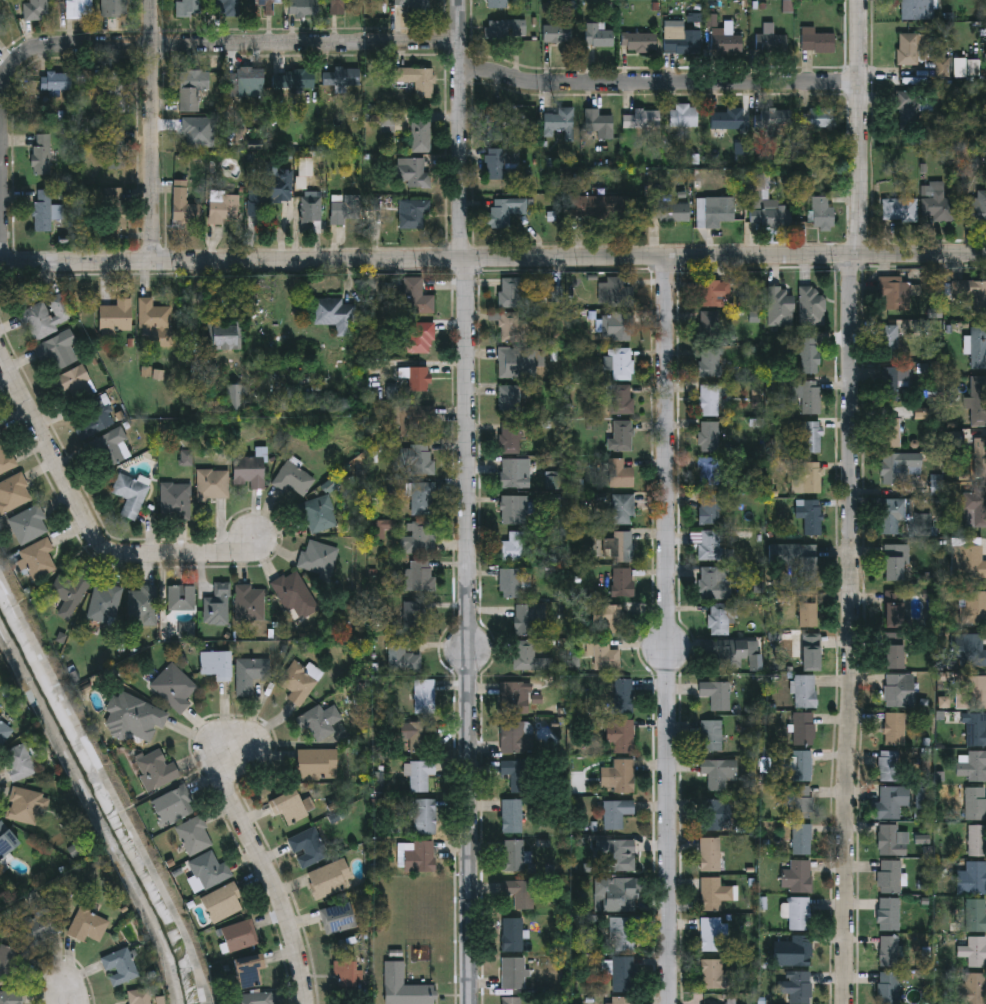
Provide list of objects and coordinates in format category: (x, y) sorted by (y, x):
building: (0, 0)
building: (496, 4)
building: (266, 5)
building: (340, 6)
building: (415, 6)
building: (114, 8)
building: (187, 8)
building: (227, 8)
building: (302, 8)
building: (79, 9)
building: (914, 9)
building: (35, 10)
building: (504, 30)
building: (558, 34)
building: (598, 35)
building: (681, 39)
building: (817, 41)
building: (639, 42)
building: (726, 43)
building: (772, 44)
road: (134, 45)
building: (911, 47)
building: (341, 76)
building: (244, 80)
building: (292, 80)
building: (416, 80)
building: (56, 81)
road: (661, 81)
building: (191, 88)
building: (115, 92)
building: (906, 109)
building: (684, 115)
building: (642, 118)
building: (727, 118)
building: (818, 118)
building: (774, 119)
building: (494, 121)
building: (560, 123)
building: (599, 123)
road: (862, 127)
road: (153, 131)
building: (420, 135)
building: (115, 149)
building: (41, 155)
building: (500, 161)
building: (412, 172)
building: (268, 190)
building: (765, 203)
building: (183, 204)
building: (621, 204)
building: (938, 204)
building: (976, 205)
building: (310, 206)
building: (583, 206)
building: (221, 207)
building: (899, 208)
building: (115, 209)
building: (505, 210)
building: (45, 211)
building: (345, 211)
building: (713, 211)
building: (668, 212)
building: (821, 213)
building: (414, 214)
road: (493, 258)
building: (972, 291)
building: (509, 292)
building: (614, 292)
building: (895, 292)
building: (411, 294)
building: (812, 305)
building: (780, 306)
building: (711, 307)
building: (152, 315)
building: (334, 315)
building: (47, 316)
building: (114, 317)
building: (619, 326)
building: (513, 328)
building: (222, 337)
building: (419, 337)
building: (889, 342)
building: (978, 347)
building: (57, 351)
building: (810, 355)
building: (520, 362)
building: (621, 364)
building: (417, 379)
building: (894, 381)
building: (73, 382)
building: (709, 382)
building: (232, 397)
building: (811, 397)
building: (620, 400)
building: (978, 401)
building: (511, 416)
building: (94, 418)
building: (414, 418)
building: (890, 432)
building: (0, 433)
building: (620, 436)
building: (709, 436)
building: (813, 436)
building: (112, 448)
building: (980, 457)
building: (5, 458)
building: (417, 460)
building: (897, 465)
building: (250, 471)
building: (709, 472)
building: (515, 473)
building: (619, 473)
building: (808, 478)
building: (294, 479)
building: (213, 484)
building: (13, 493)
building: (130, 495)
building: (420, 499)
building: (176, 501)
road: (466, 502)
building: (709, 508)
building: (975, 508)
building: (623, 509)
building: (514, 510)
building: (320, 514)
building: (810, 515)
building: (901, 519)
road: (87, 521)
building: (28, 525)
building: (417, 539)
building: (710, 545)
building: (616, 547)
building: (513, 549)
building: (318, 557)
building: (37, 559)
building: (967, 559)
building: (894, 563)
building: (799, 564)
building: (421, 576)
building: (624, 582)
building: (710, 582)
building: (514, 583)
building: (69, 594)
building: (294, 594)
building: (181, 598)
building: (249, 603)
building: (104, 604)
building: (142, 606)
building: (217, 607)
building: (972, 607)
building: (895, 609)
building: (806, 614)
building: (413, 617)
building: (528, 618)
building: (608, 618)
building: (723, 618)
road: (853, 629)
road: (669, 630)
building: (968, 650)
building: (727, 651)
building: (811, 651)
building: (605, 656)
building: (893, 656)
building: (529, 657)
building: (400, 658)
building: (215, 665)
building: (250, 674)
building: (298, 683)
building: (173, 688)
building: (900, 690)
building: (805, 691)
building: (971, 693)
building: (716, 694)
building: (622, 696)
building: (423, 697)
building: (516, 698)
building: (132, 718)
building: (319, 722)
building: (804, 728)
building: (895, 729)
building: (975, 730)
building: (620, 736)
building: (711, 736)
building: (415, 738)
building: (512, 738)
building: (19, 762)
building: (315, 765)
building: (972, 765)
building: (802, 766)
building: (889, 766)
building: (156, 770)
building: (718, 774)
building: (418, 775)
building: (620, 776)
building: (513, 777)
building: (892, 801)
building: (799, 802)
building: (975, 803)
building: (23, 806)
building: (174, 806)
building: (287, 807)
building: (616, 812)
building: (715, 815)
building: (512, 816)
building: (423, 817)
building: (194, 836)
building: (801, 839)
building: (977, 840)
building: (6, 841)
building: (892, 841)
building: (306, 848)
building: (618, 853)
building: (709, 854)
building: (513, 855)
building: (417, 857)
road: (267, 870)
building: (209, 871)
building: (796, 876)
building: (889, 876)
building: (975, 877)
building: (329, 879)
building: (519, 892)
building: (713, 893)
building: (615, 895)
building: (222, 903)
building: (799, 913)
building: (888, 914)
building: (976, 914)
building: (337, 919)
building: (88, 926)
building: (38, 927)
building: (512, 934)
building: (623, 934)
building: (711, 934)
building: (239, 936)
building: (793, 951)
building: (888, 951)
building: (974, 951)
building: (8, 964)
building: (119, 967)
building: (247, 971)
building: (513, 973)
building: (711, 973)
building: (345, 974)
building: (623, 974)
building: (403, 987)
building: (800, 987)
building: (888, 988)
building: (971, 989)
road: (69, 991)
building: (10, 997)
building: (139, 997)
building: (257, 998)
building: (622, 1000)
building: (511, 1001)

